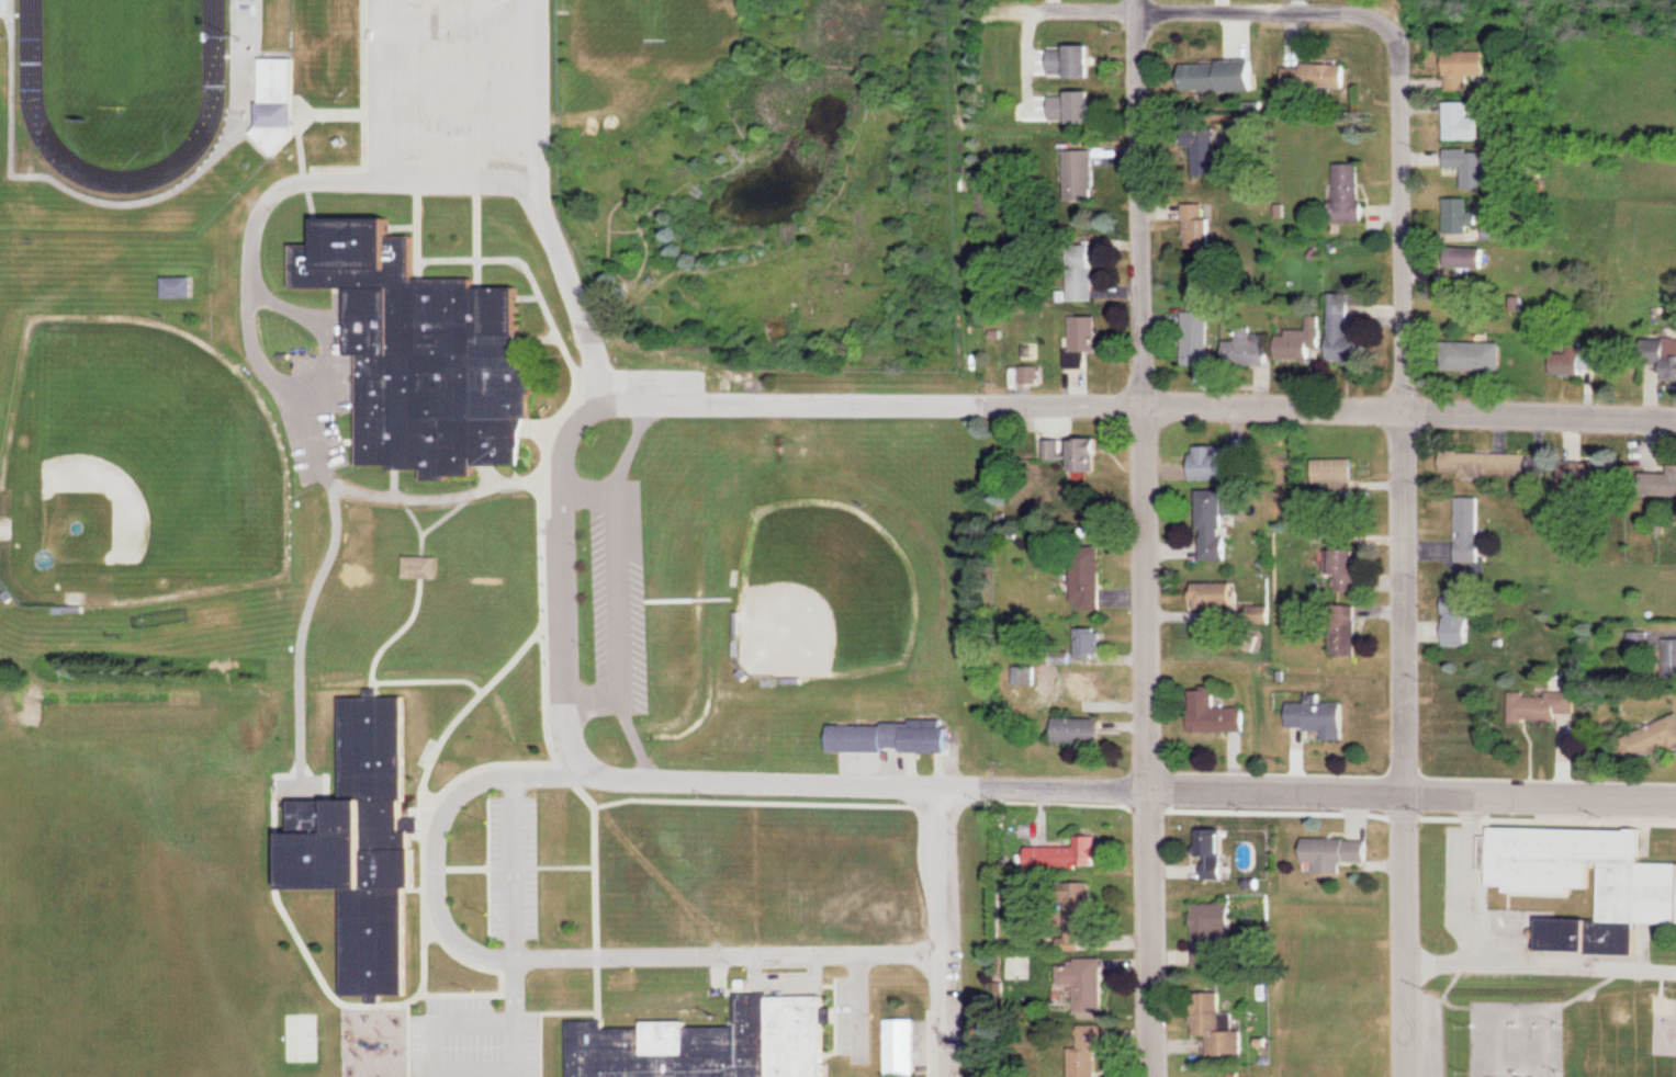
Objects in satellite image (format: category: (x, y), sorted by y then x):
building: (2, 1)
road: (1196, 9)
park: (124, 55)
building: (1073, 60)
building: (1465, 68)
building: (1223, 76)
building: (1318, 78)
track: (33, 99)
building: (281, 101)
building: (1075, 107)
building: (1464, 121)
building: (1205, 150)
building: (1471, 165)
building: (1082, 174)
building: (1351, 191)
building: (1464, 214)
building: (1201, 226)
building: (1499, 230)
building: (1470, 254)
building: (1084, 270)
building: (180, 286)
building: (1347, 327)
building: (1199, 337)
building: (1084, 338)
building: (1300, 342)
building: (1250, 347)
building: (427, 352)
building: (1474, 355)
building: (1660, 359)
building: (1575, 361)
road: (1124, 400)
building: (1089, 454)
building: (1212, 462)
park: (138, 464)
building: (1488, 464)
building: (1337, 471)
building: (1667, 483)
building: (1216, 525)
building: (1470, 529)
road: (1146, 538)
road: (1404, 551)
building: (424, 566)
building: (1352, 570)
road: (565, 589)
building: (1092, 591)
park: (825, 592)
building: (1216, 593)
building: (1461, 619)
building: (1347, 630)
building: (1639, 640)
building: (1090, 644)
building: (1671, 658)
building: (1091, 685)
building: (1541, 706)
building: (1218, 714)
building: (1323, 716)
building: (1081, 730)
building: (893, 737)
building: (1654, 740)
road: (1124, 786)
building: (365, 846)
building: (1338, 851)
building: (1075, 853)
building: (1216, 853)
building: (1586, 880)
road: (940, 931)
building: (1215, 933)
road: (1540, 957)
building: (1088, 982)
building: (1217, 1023)
building: (715, 1043)
building: (904, 1046)
building: (1090, 1050)

